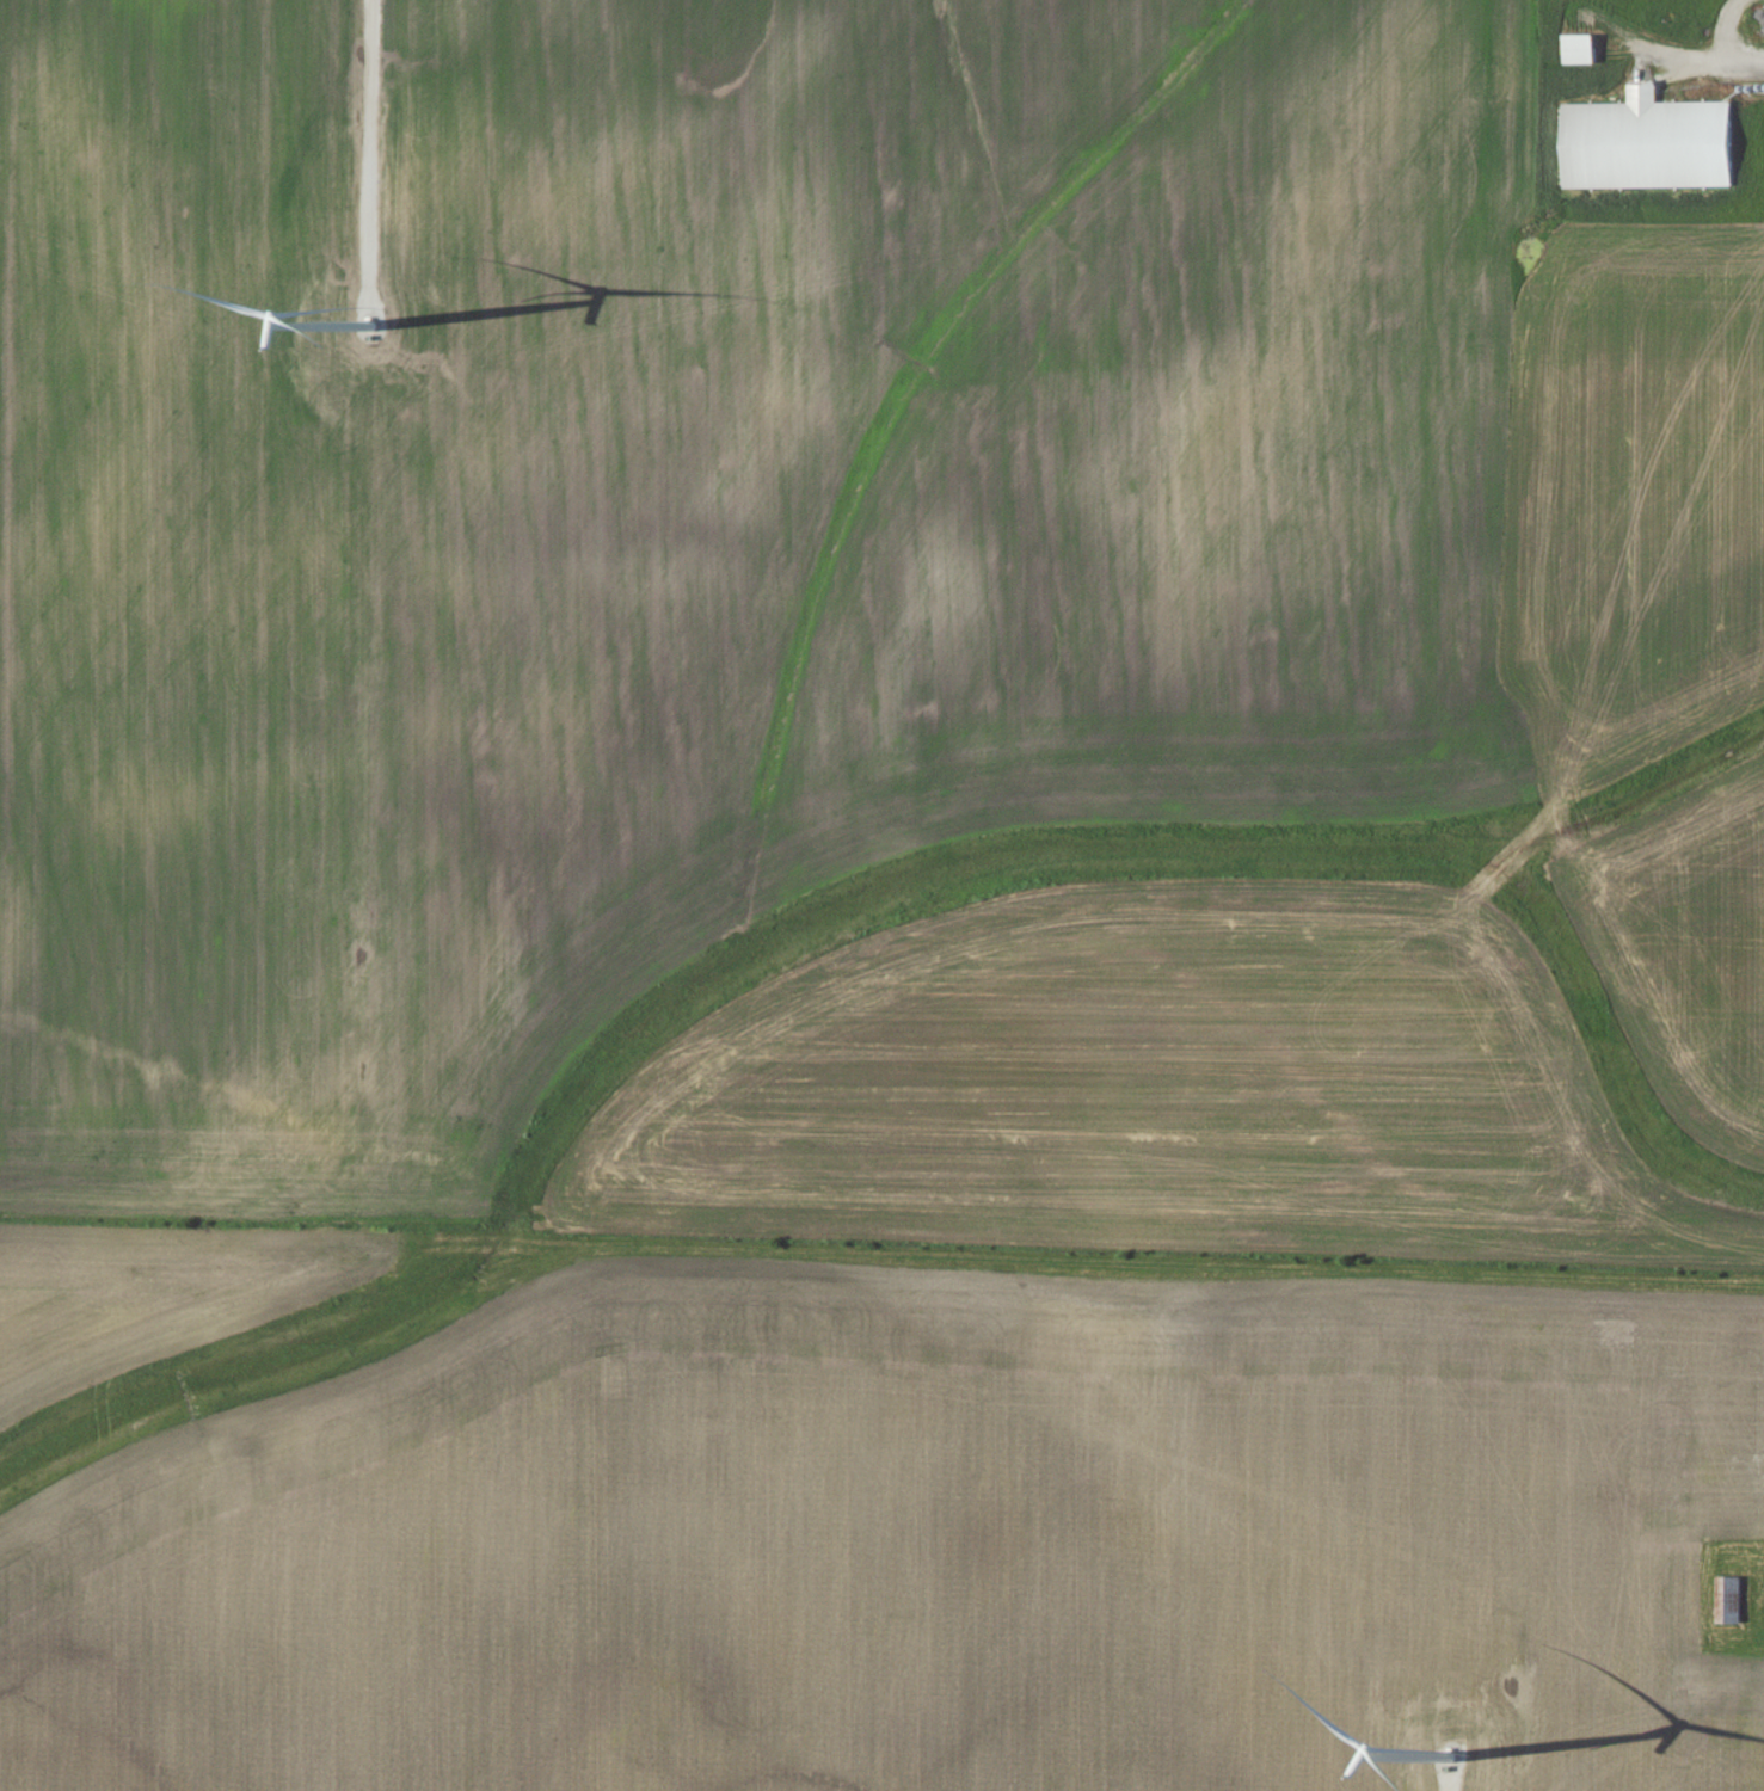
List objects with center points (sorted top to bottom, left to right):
road: (373, 153)
wind turbine: (373, 330)
wind turbine: (1455, 1768)

